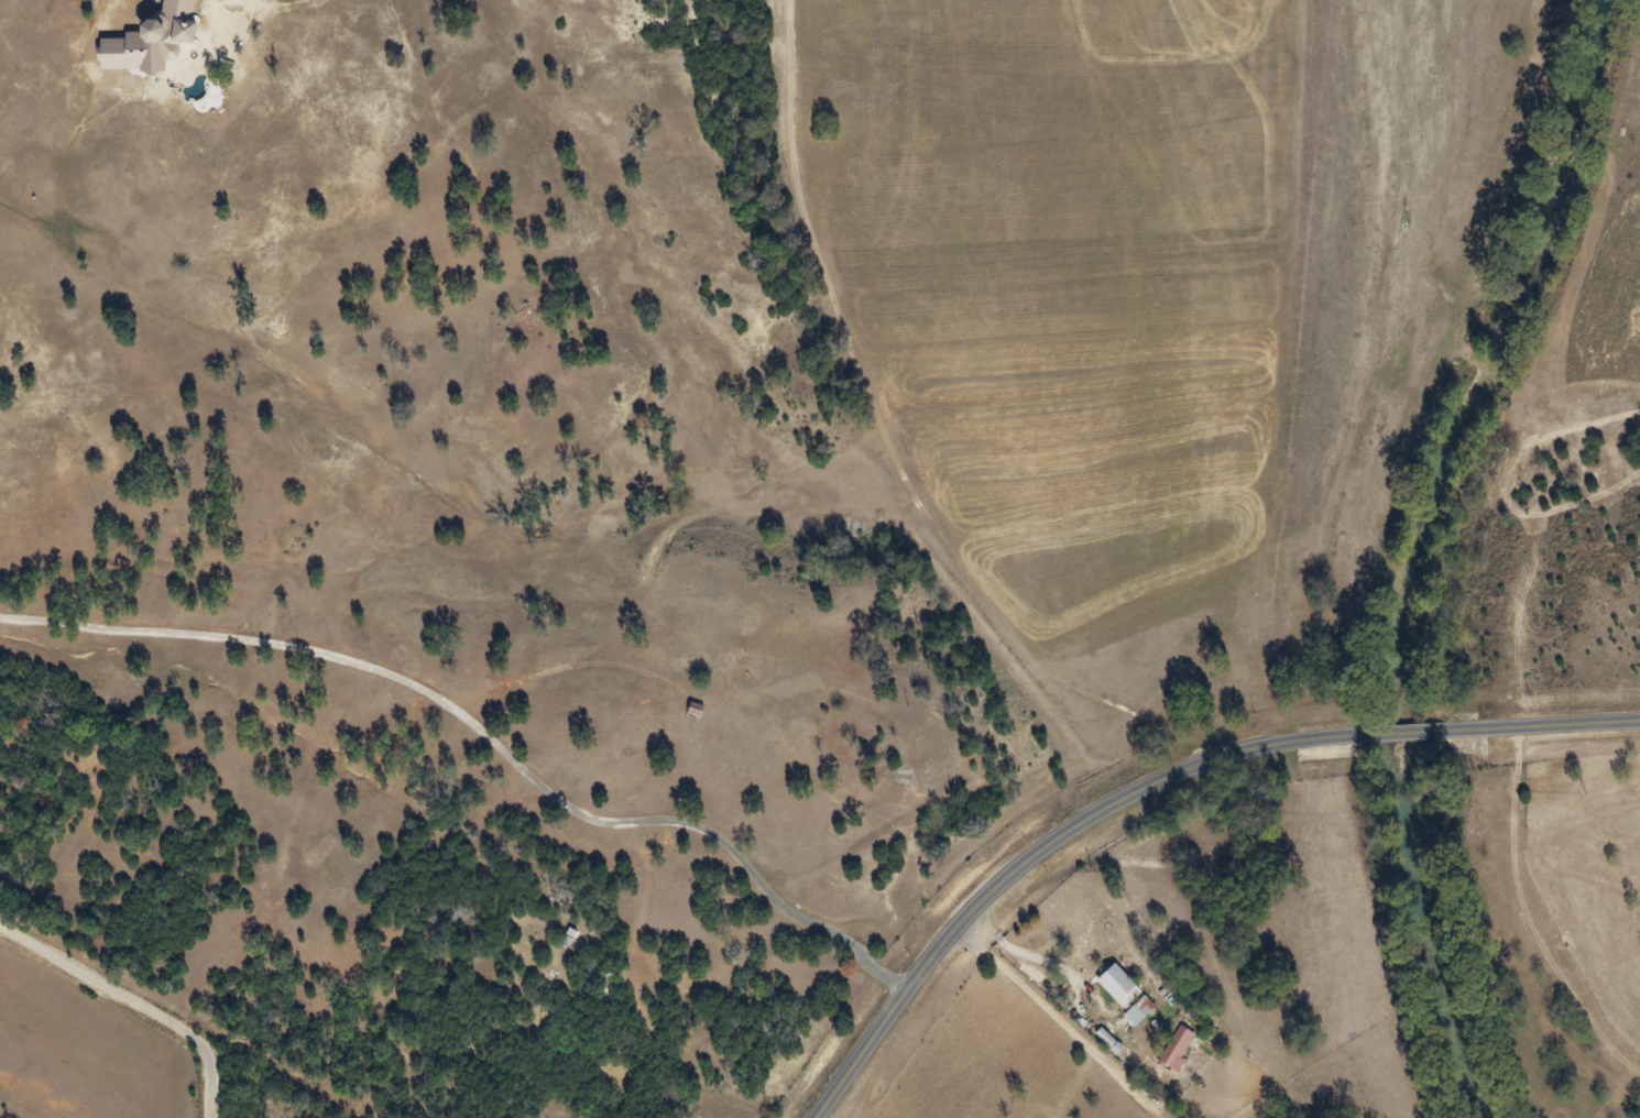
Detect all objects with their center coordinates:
road: (1621, 211)
river: (1418, 539)
road: (1549, 725)
road: (1410, 731)
road: (1039, 852)
building: (1122, 978)
building: (1111, 990)
road: (134, 1001)
building: (1145, 1009)
building: (1133, 1016)
building: (1182, 1048)

